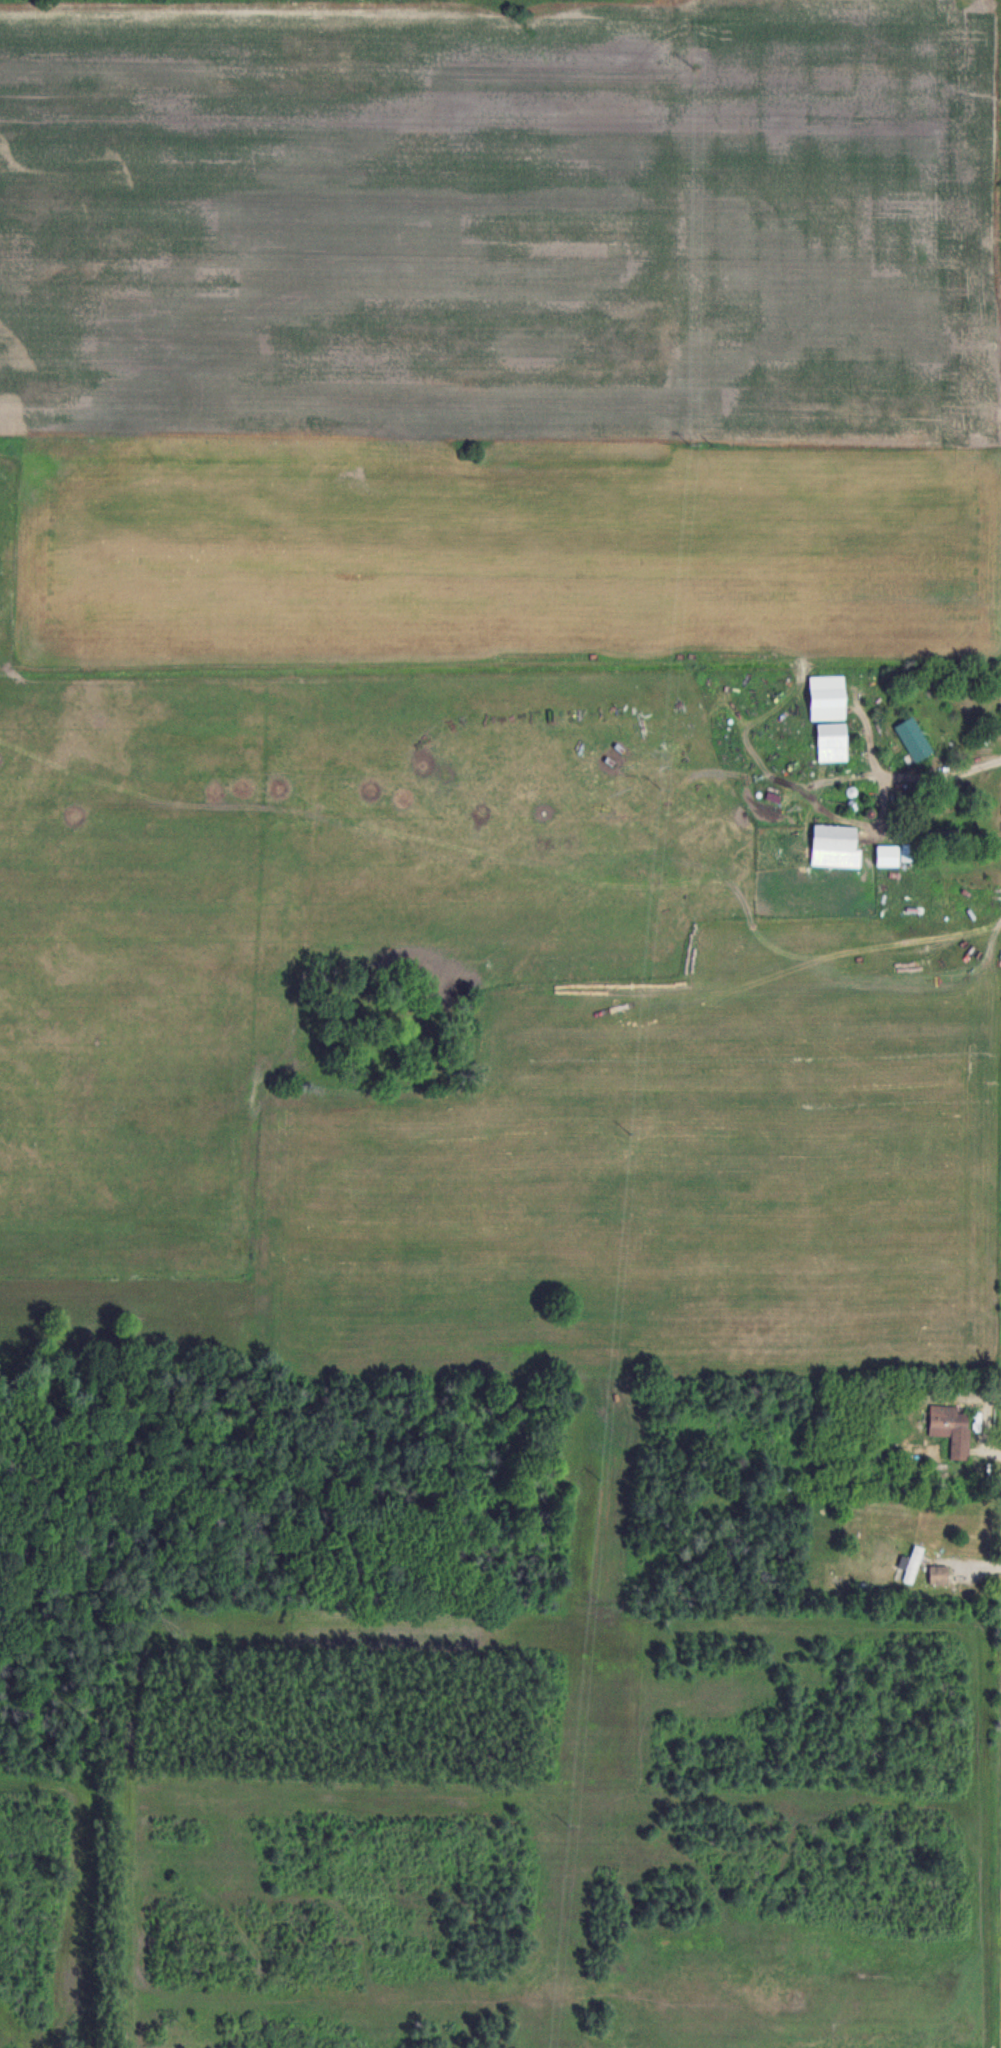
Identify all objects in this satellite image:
building: (913, 740)
building: (831, 742)
road: (894, 776)
building: (942, 818)
building: (834, 846)
building: (955, 1430)
building: (910, 1563)
building: (937, 1573)

